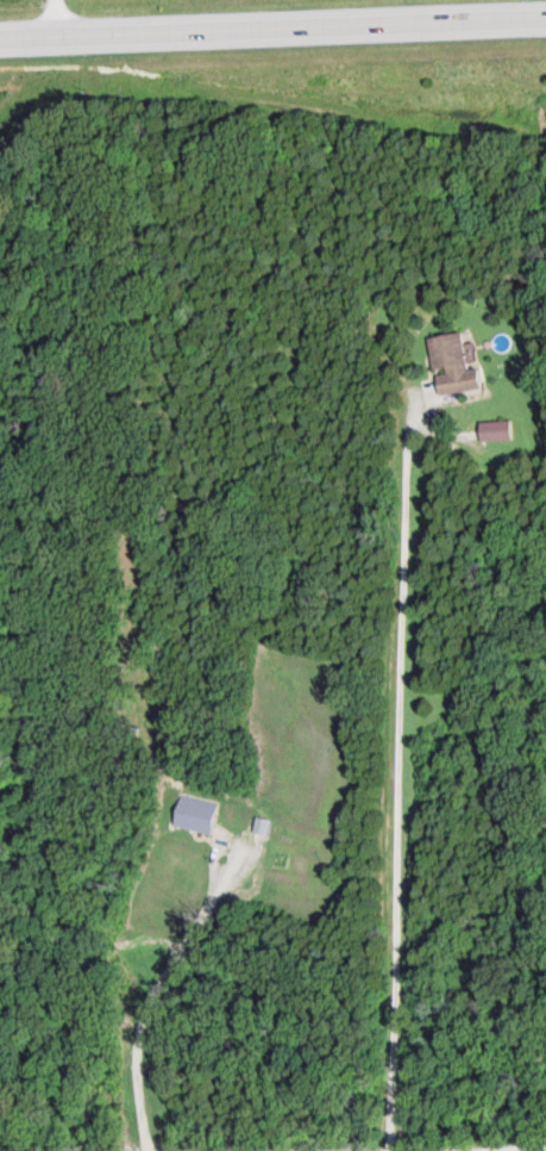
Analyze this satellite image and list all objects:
road: (50, 18)
road: (272, 29)
building: (460, 366)
building: (496, 431)
road: (396, 776)

